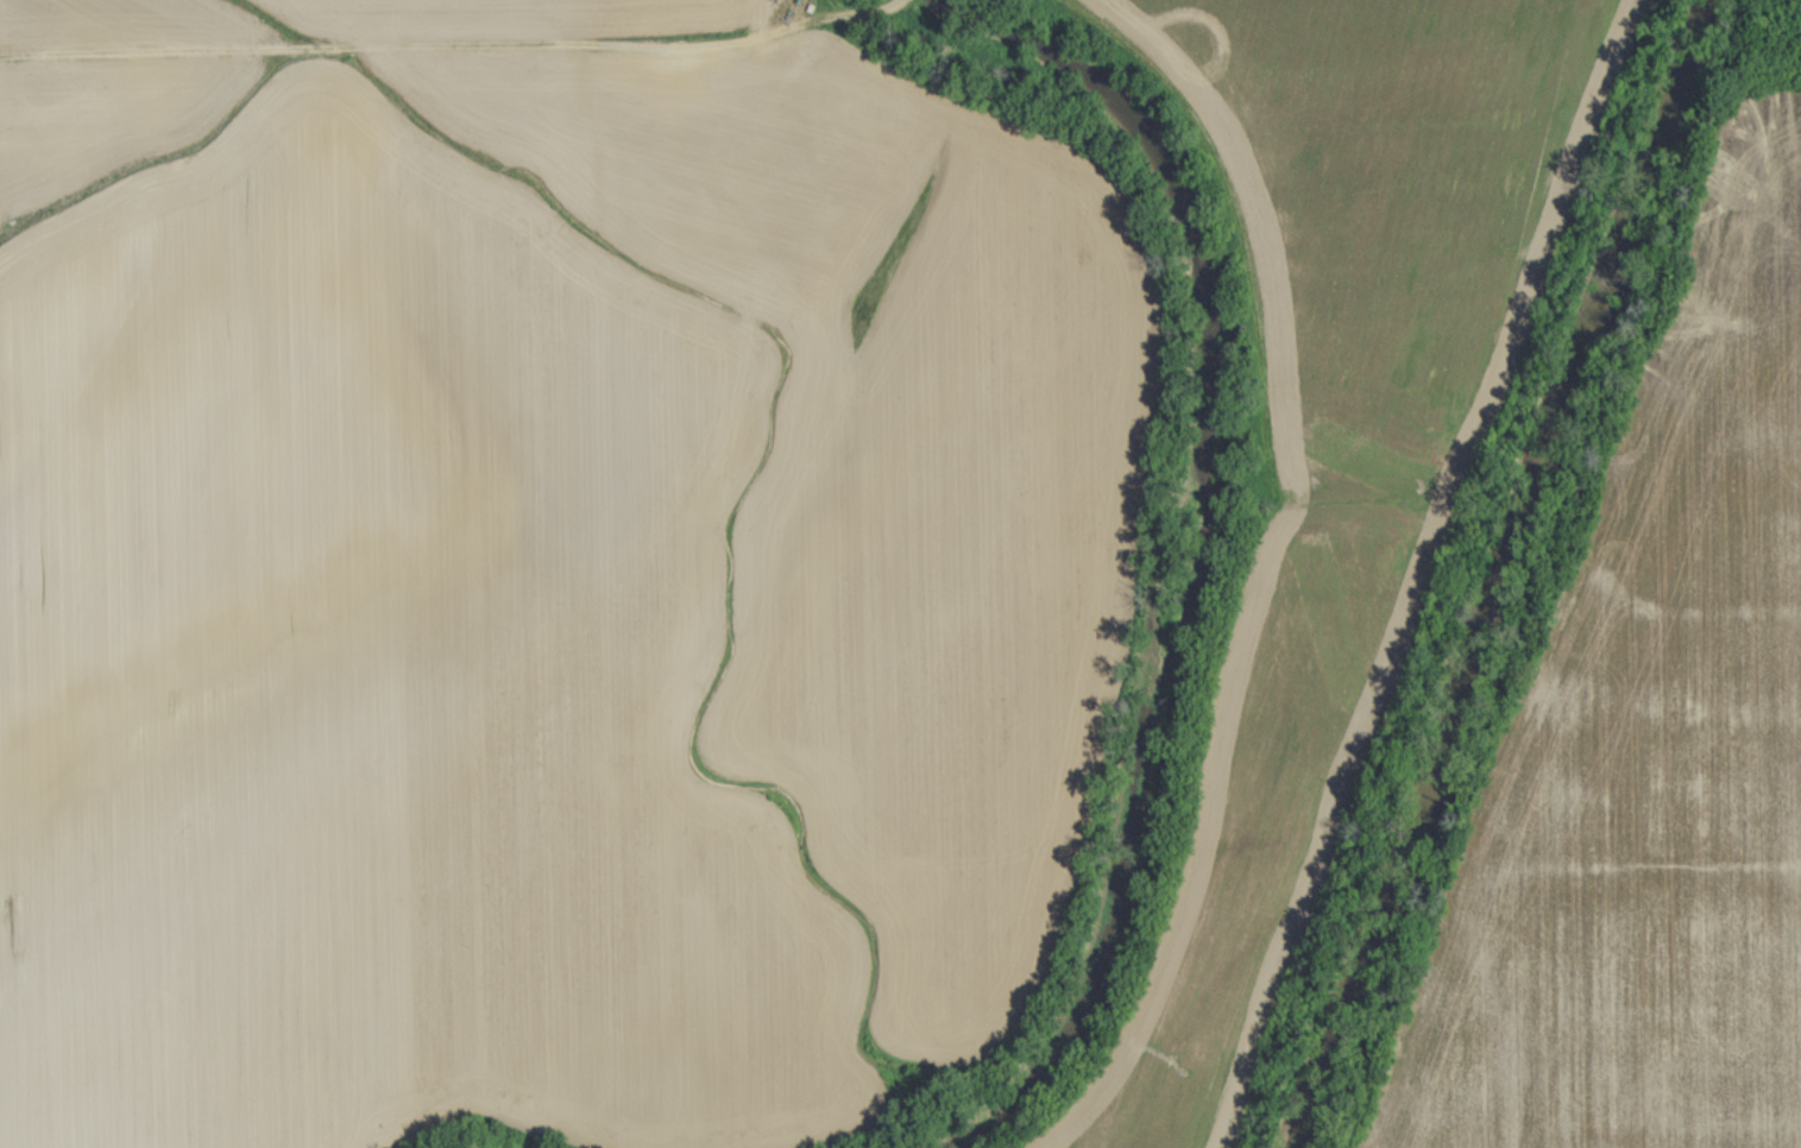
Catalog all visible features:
river: (1188, 542)

